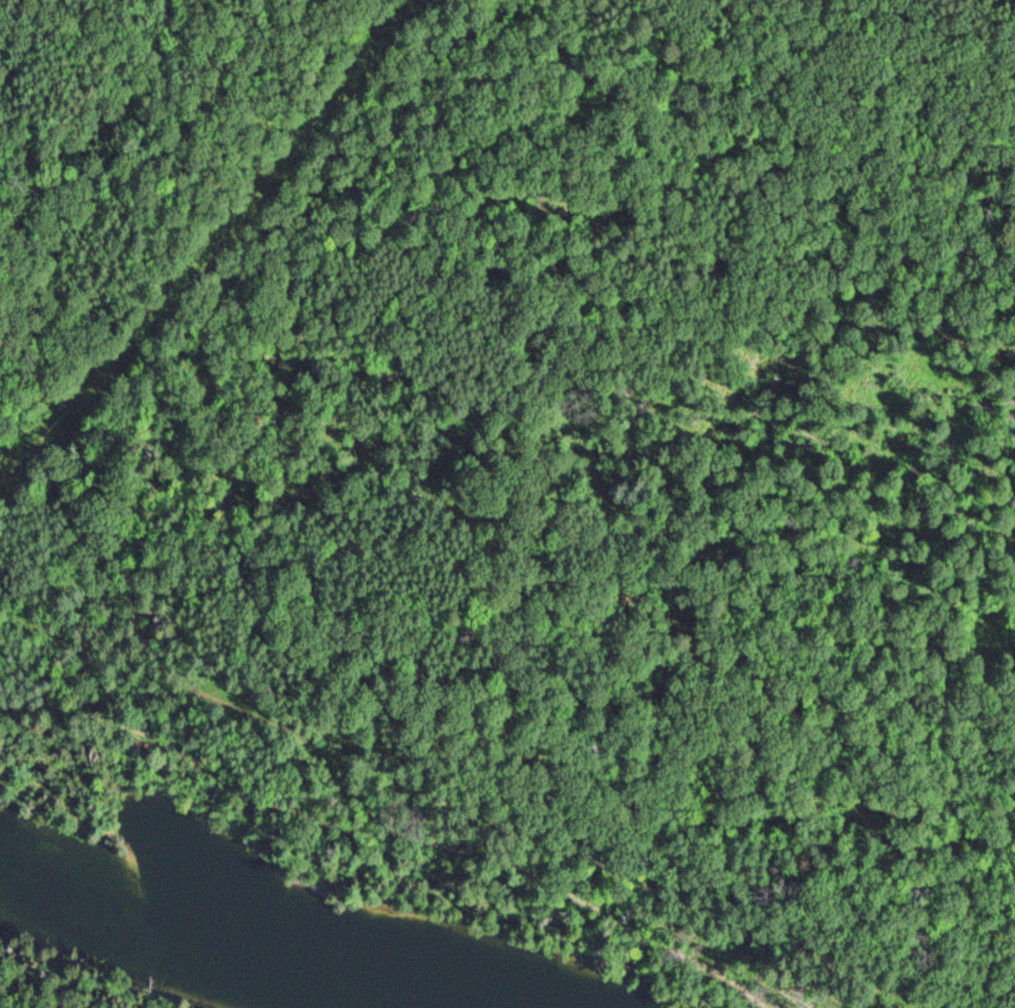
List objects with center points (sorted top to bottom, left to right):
road: (408, 848)

